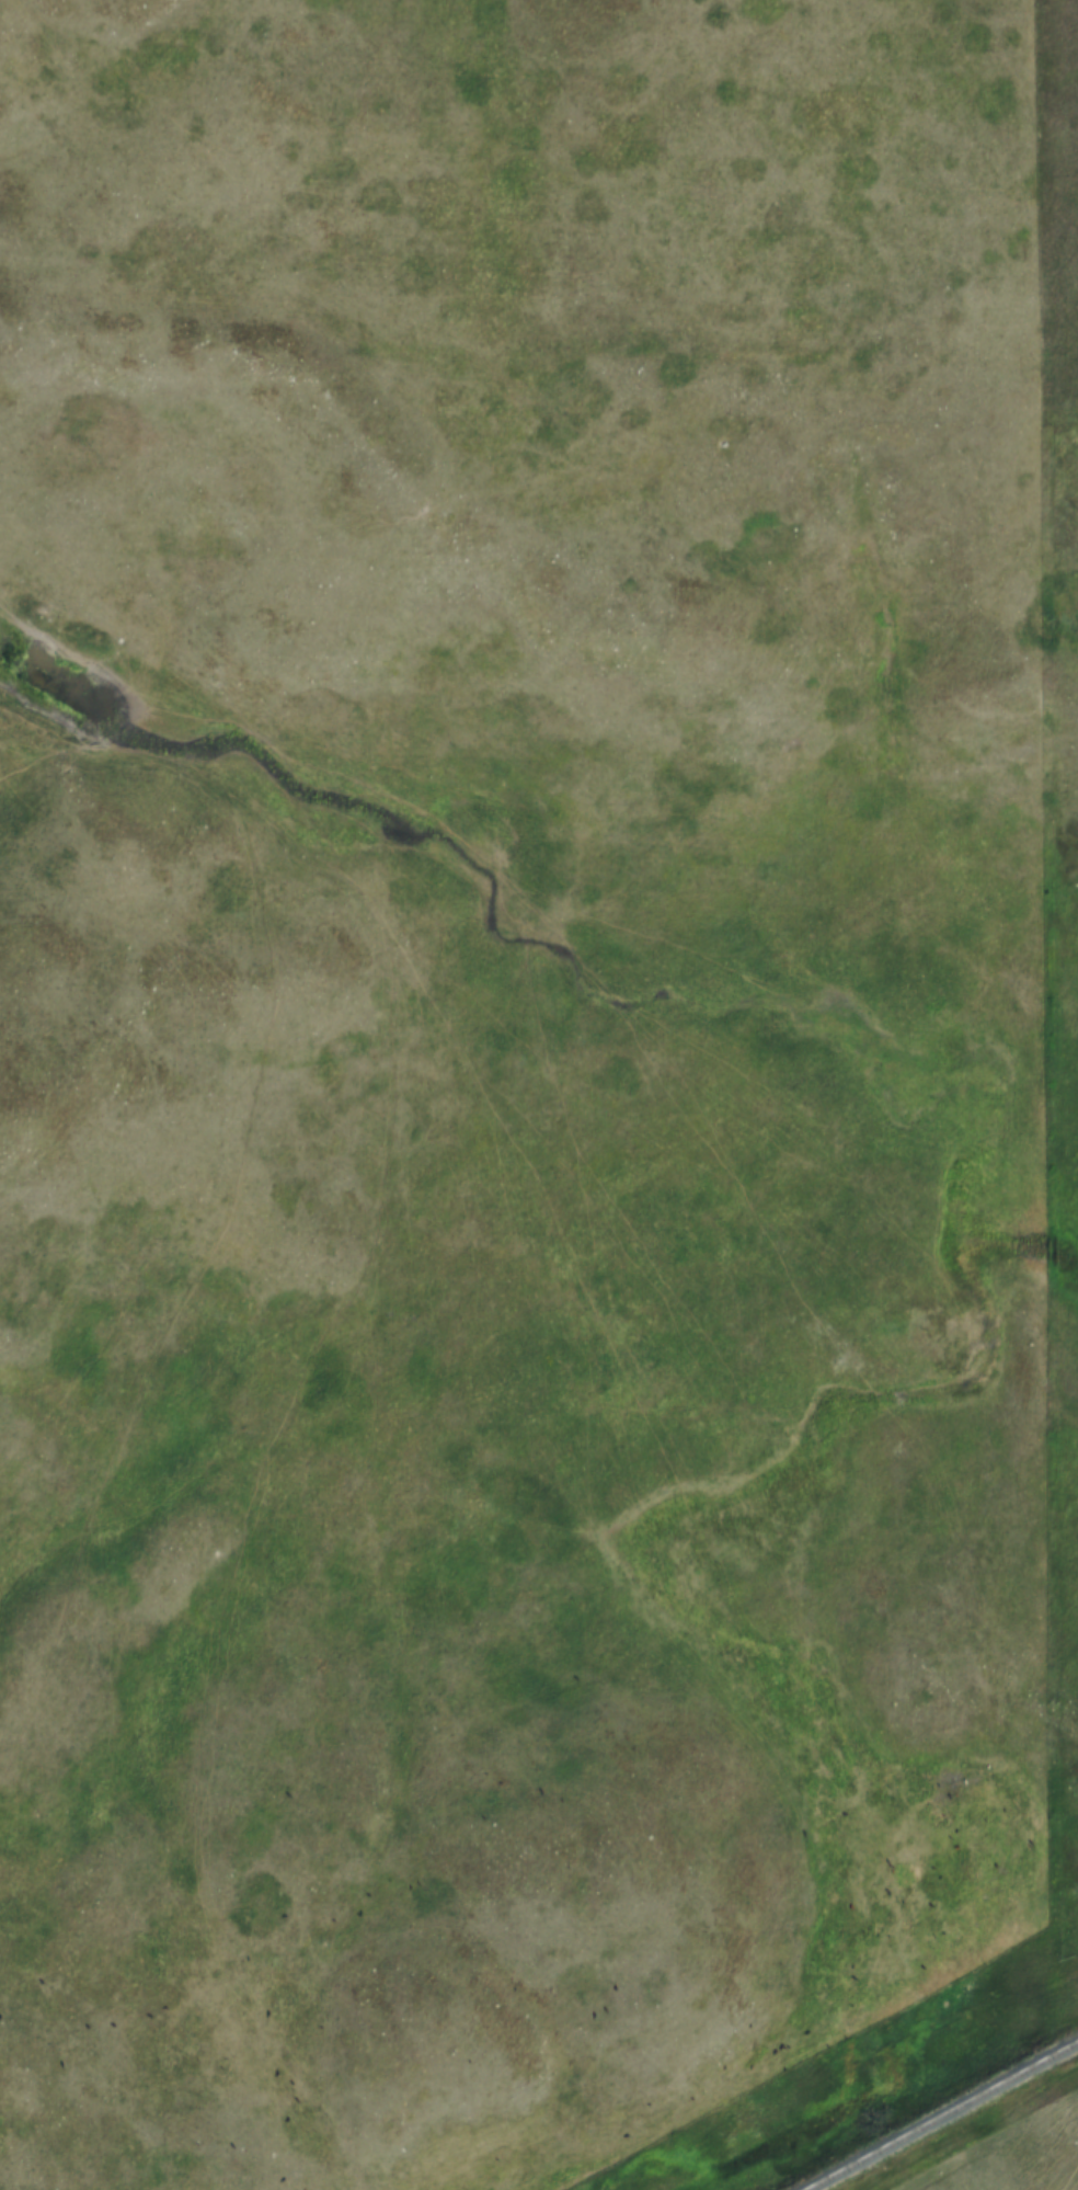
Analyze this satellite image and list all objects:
railway: (965, 2130)

